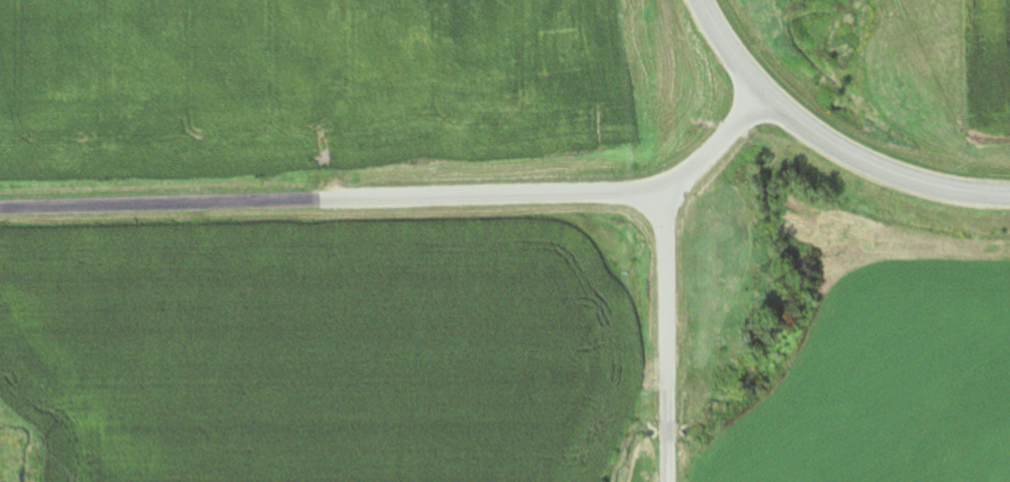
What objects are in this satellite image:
road: (733, 49)
road: (880, 167)
road: (406, 202)
road: (665, 339)

